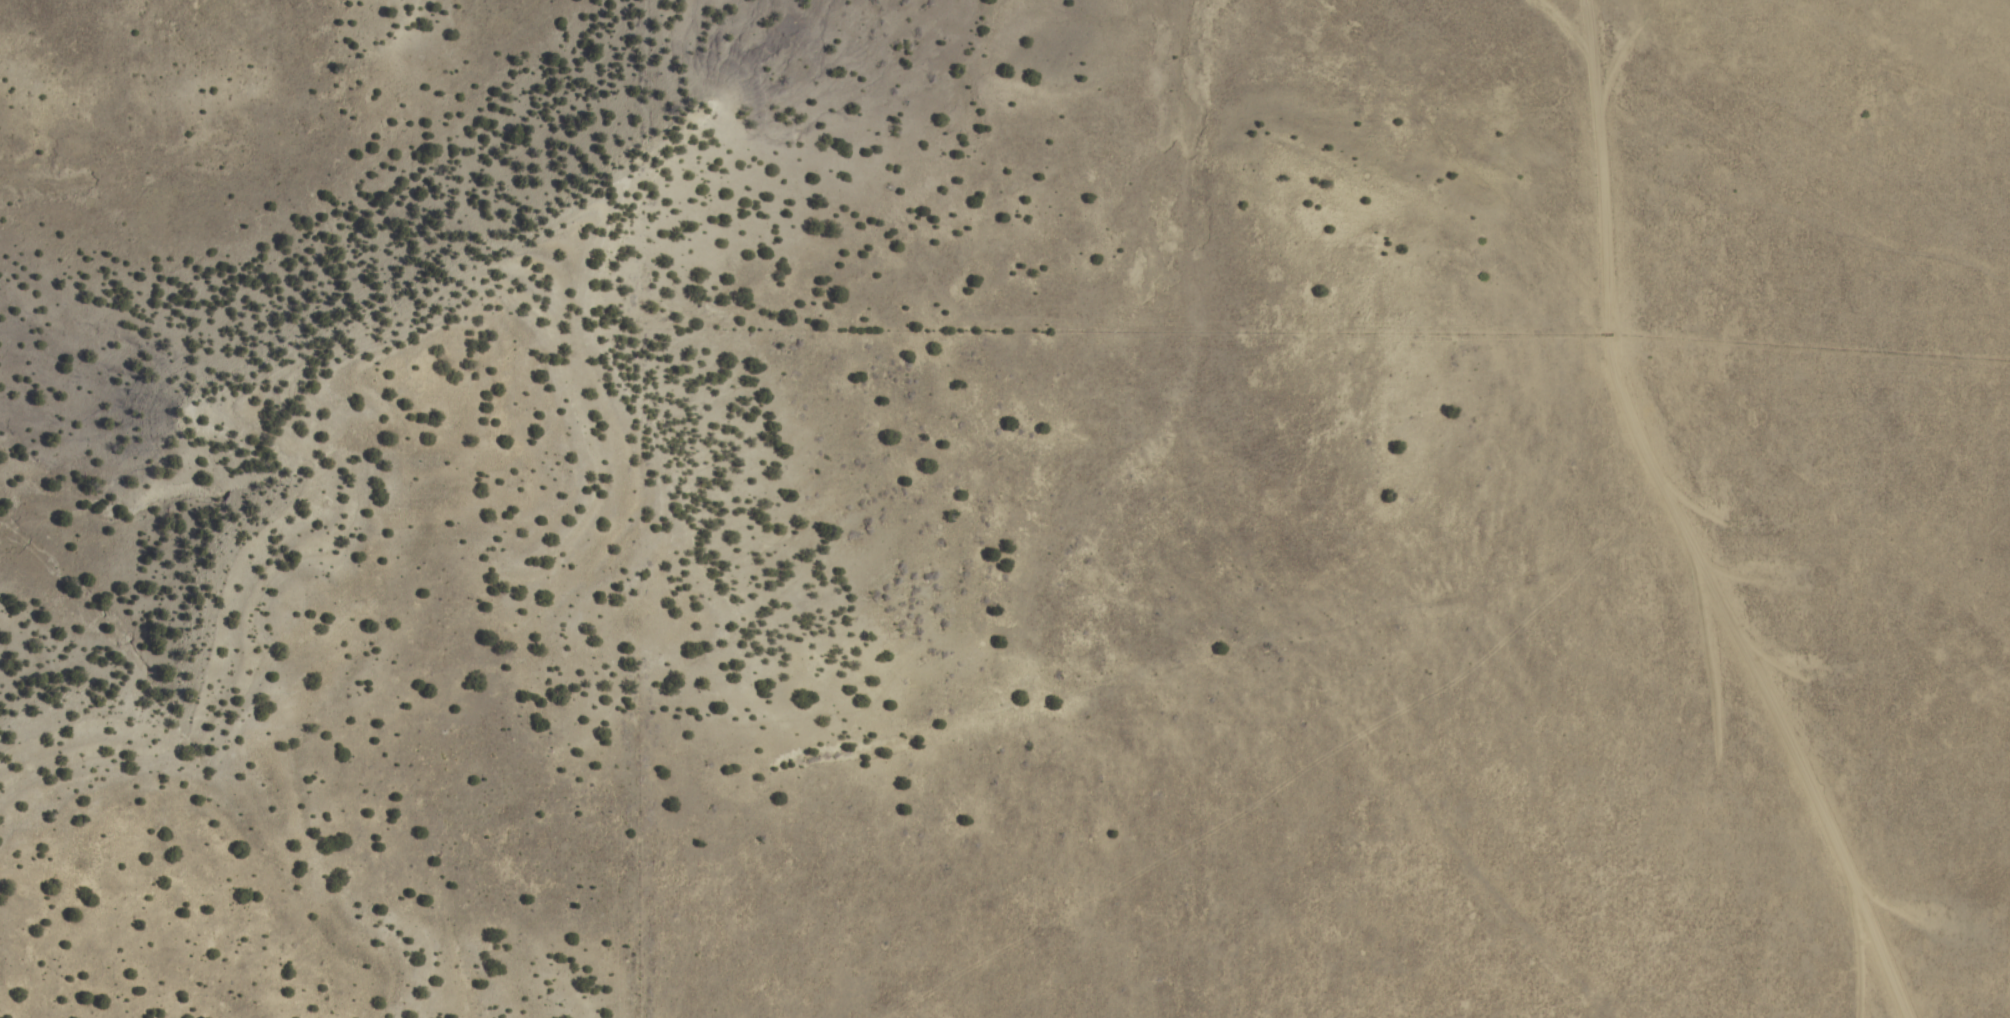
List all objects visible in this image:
road: (1623, 536)

